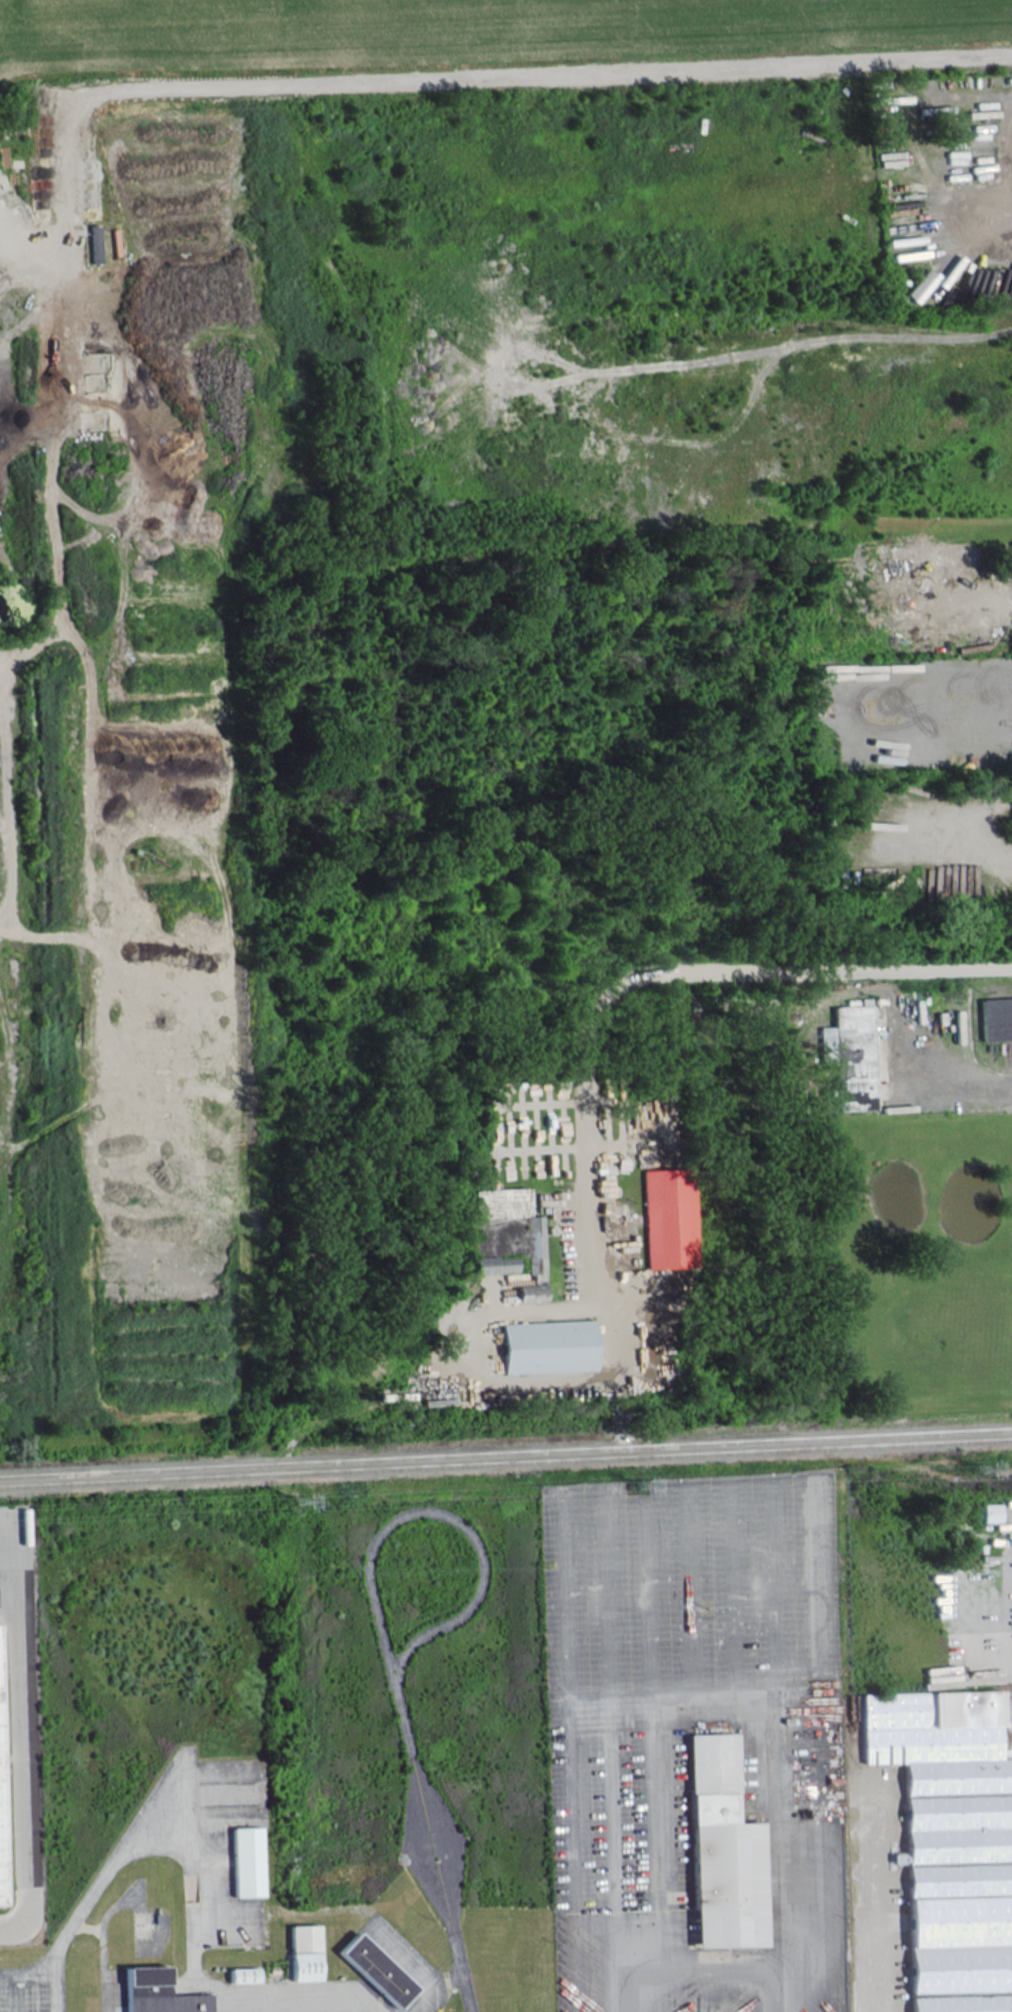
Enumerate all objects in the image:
crop: (429, 36)
road: (479, 77)
road: (986, 206)
road: (648, 972)
building: (995, 1018)
building: (854, 1055)
road: (957, 1085)
building: (669, 1219)
building: (508, 1243)
building: (548, 1346)
railway: (506, 1451)
railway: (506, 1461)
power tower: (977, 1470)
railway: (950, 1474)
power tower: (634, 1486)
power tower: (299, 1502)
road: (713, 1706)
parking lot: (692, 1734)
road: (22, 1749)
building: (950, 1843)
road: (149, 1846)
building: (720, 1851)
building: (246, 1862)
building: (1, 1863)
road: (873, 1895)
building: (303, 1952)
building: (374, 1968)
building: (242, 1974)
road: (704, 1976)
building: (158, 1992)
road: (309, 1996)

